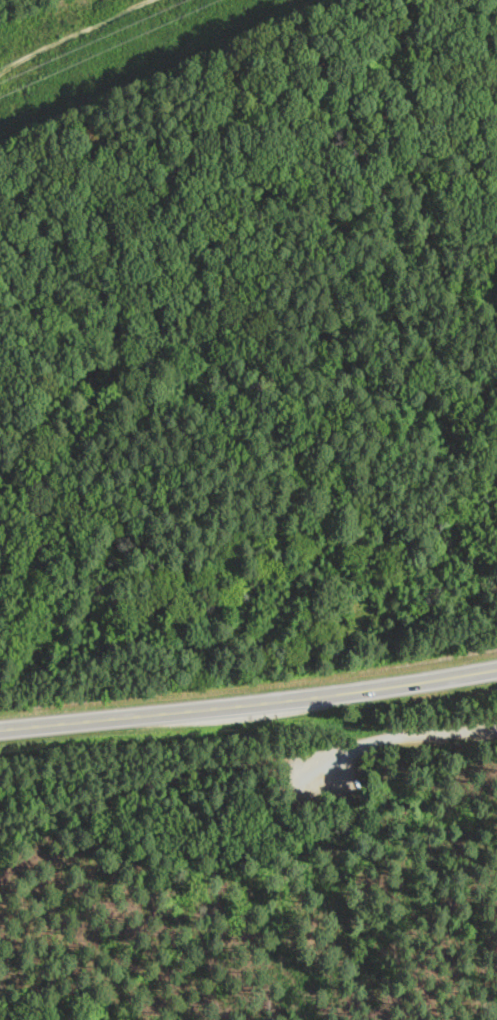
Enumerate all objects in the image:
road: (249, 703)
road: (376, 738)
parking lot: (303, 764)

